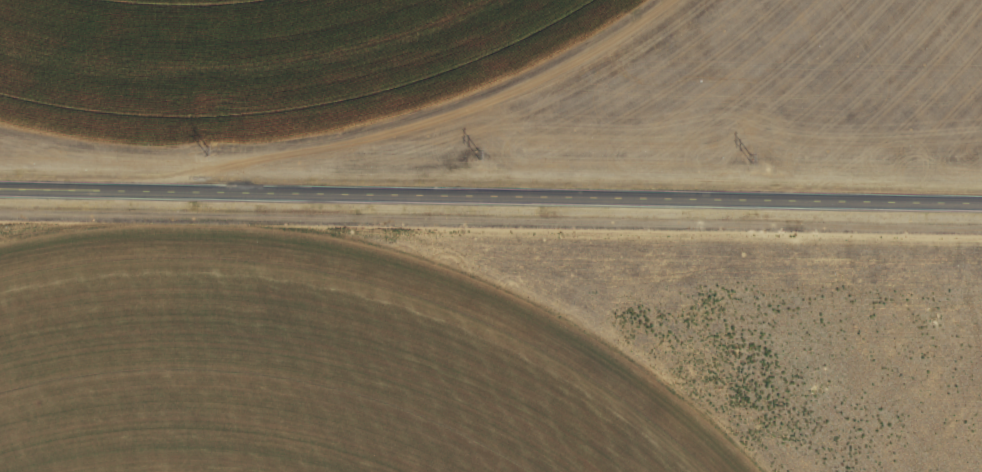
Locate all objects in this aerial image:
road: (64, 88)
road: (491, 198)

